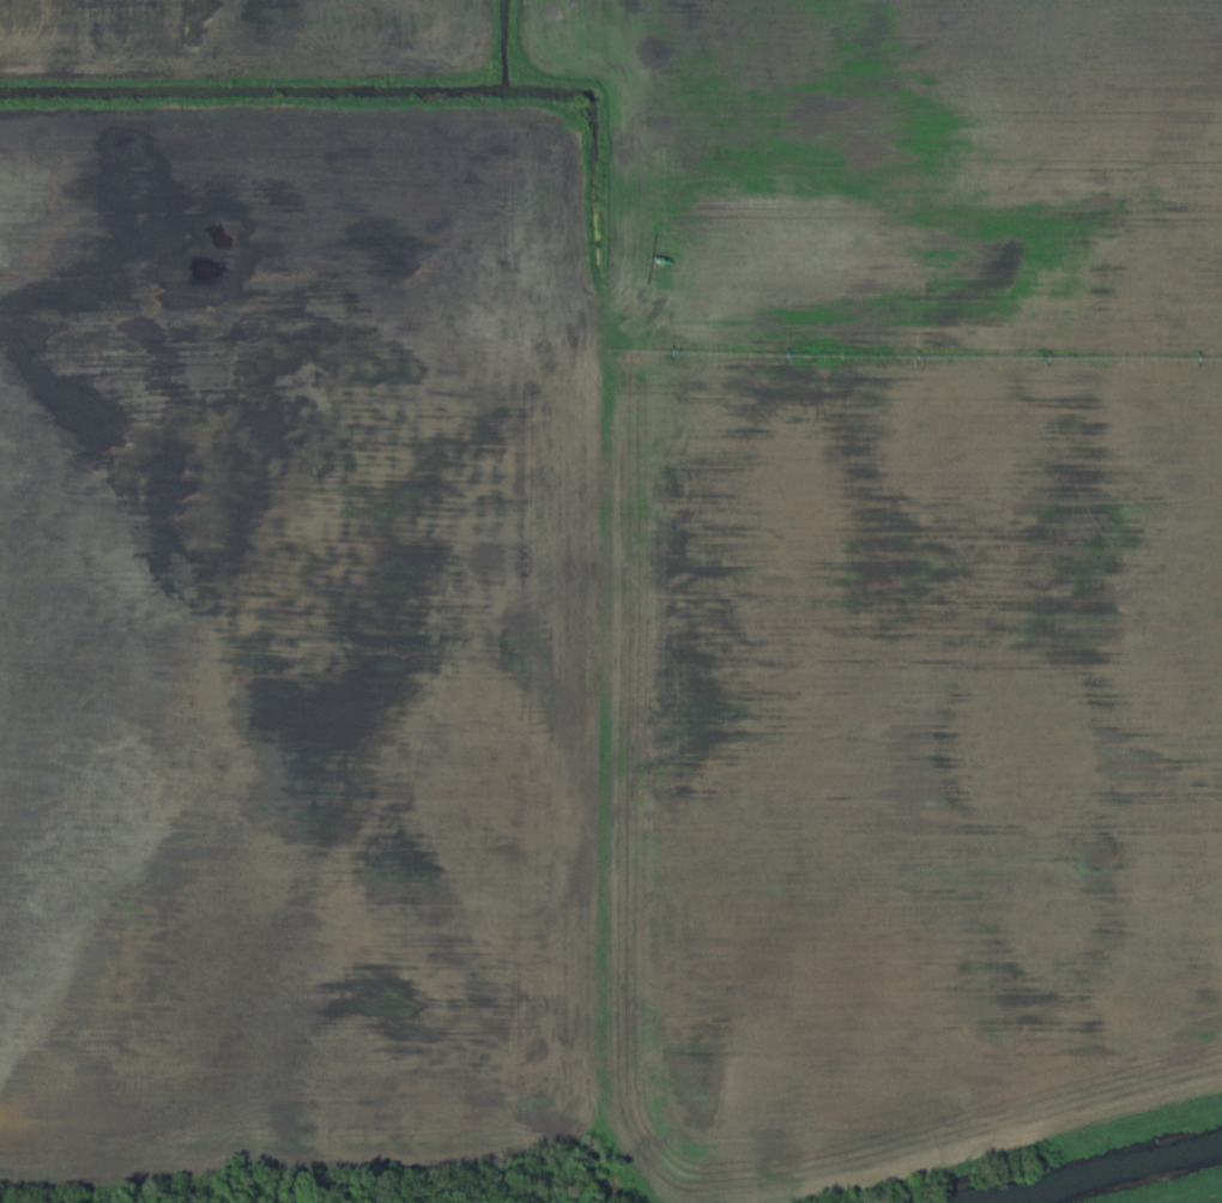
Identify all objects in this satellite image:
river: (1076, 1171)

